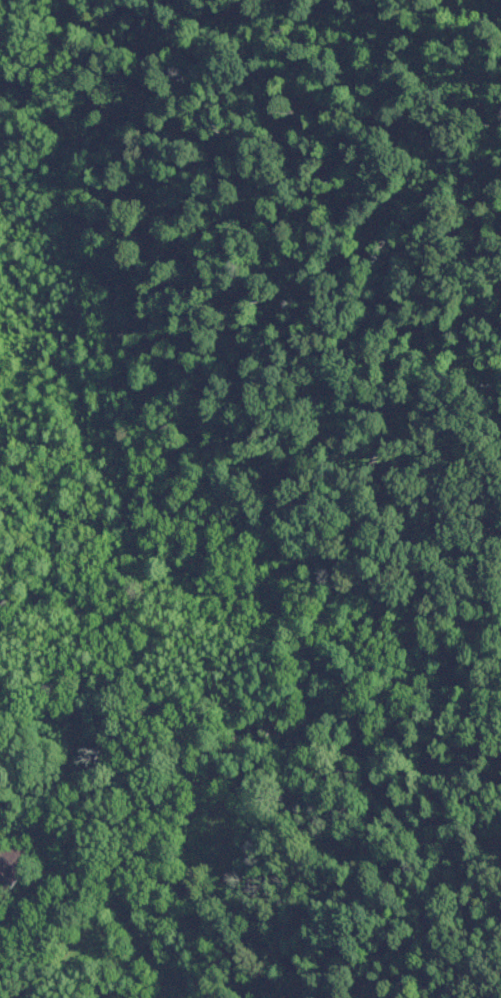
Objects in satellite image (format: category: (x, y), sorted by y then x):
building: (8, 865)

